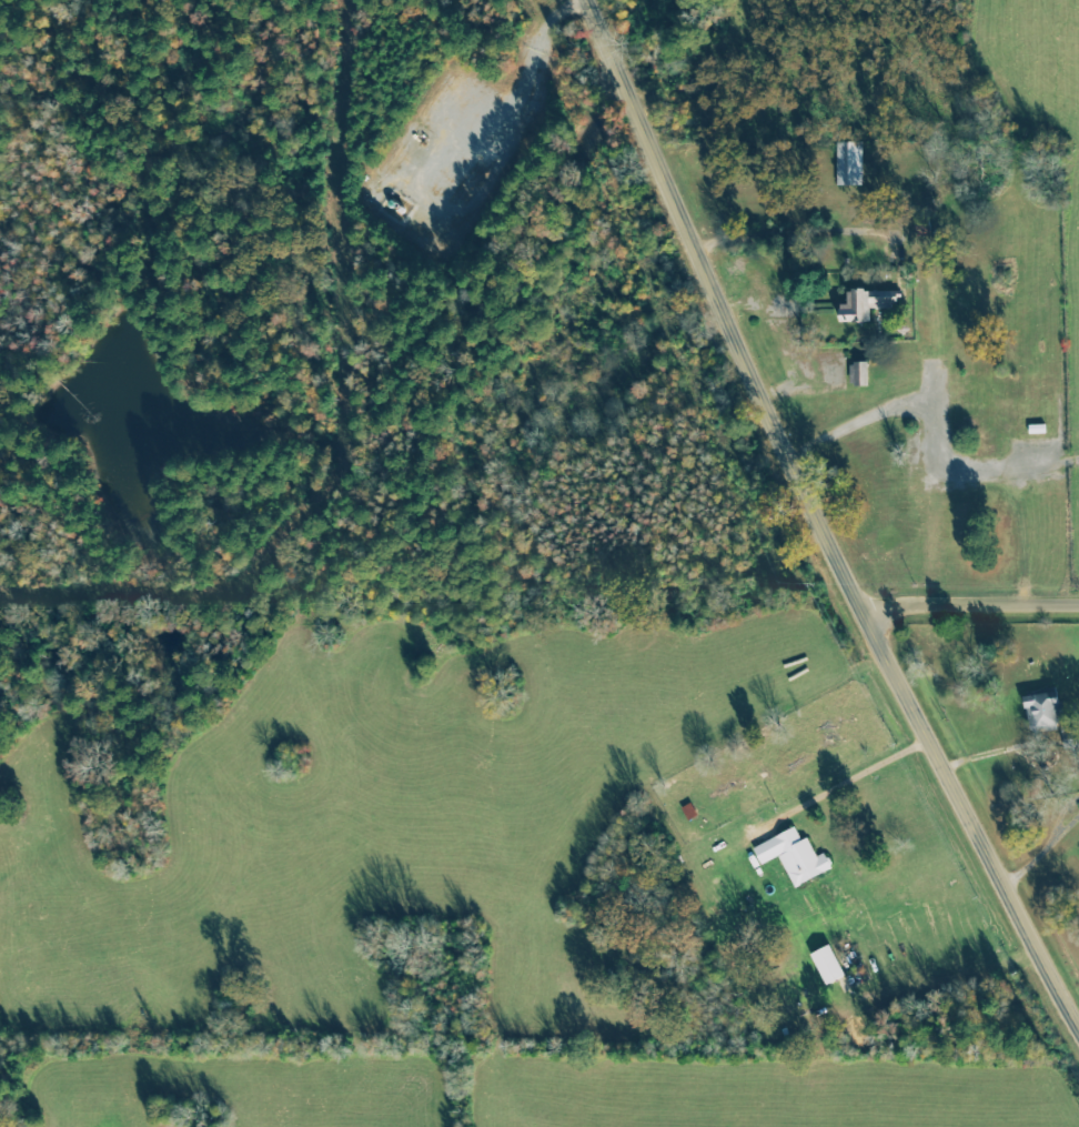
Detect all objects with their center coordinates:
building: (863, 305)
building: (859, 372)
road: (817, 520)
road: (969, 600)
building: (1040, 712)
building: (793, 855)
building: (826, 964)

